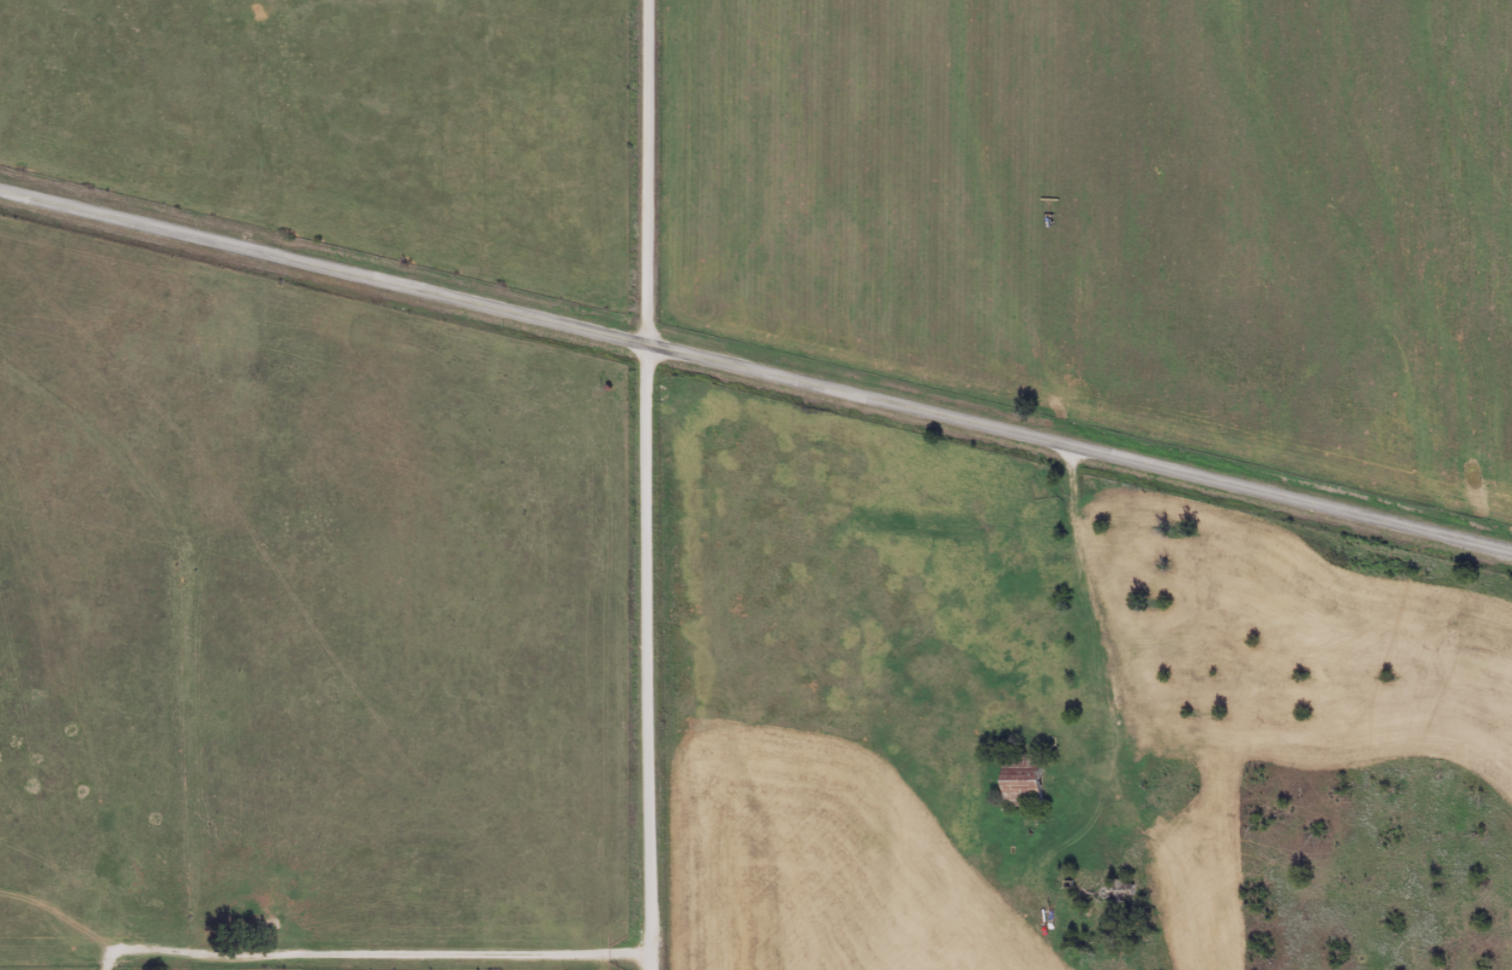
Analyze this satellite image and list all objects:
road: (325, 265)
road: (1081, 446)
road: (649, 485)
building: (1030, 773)
road: (385, 953)

